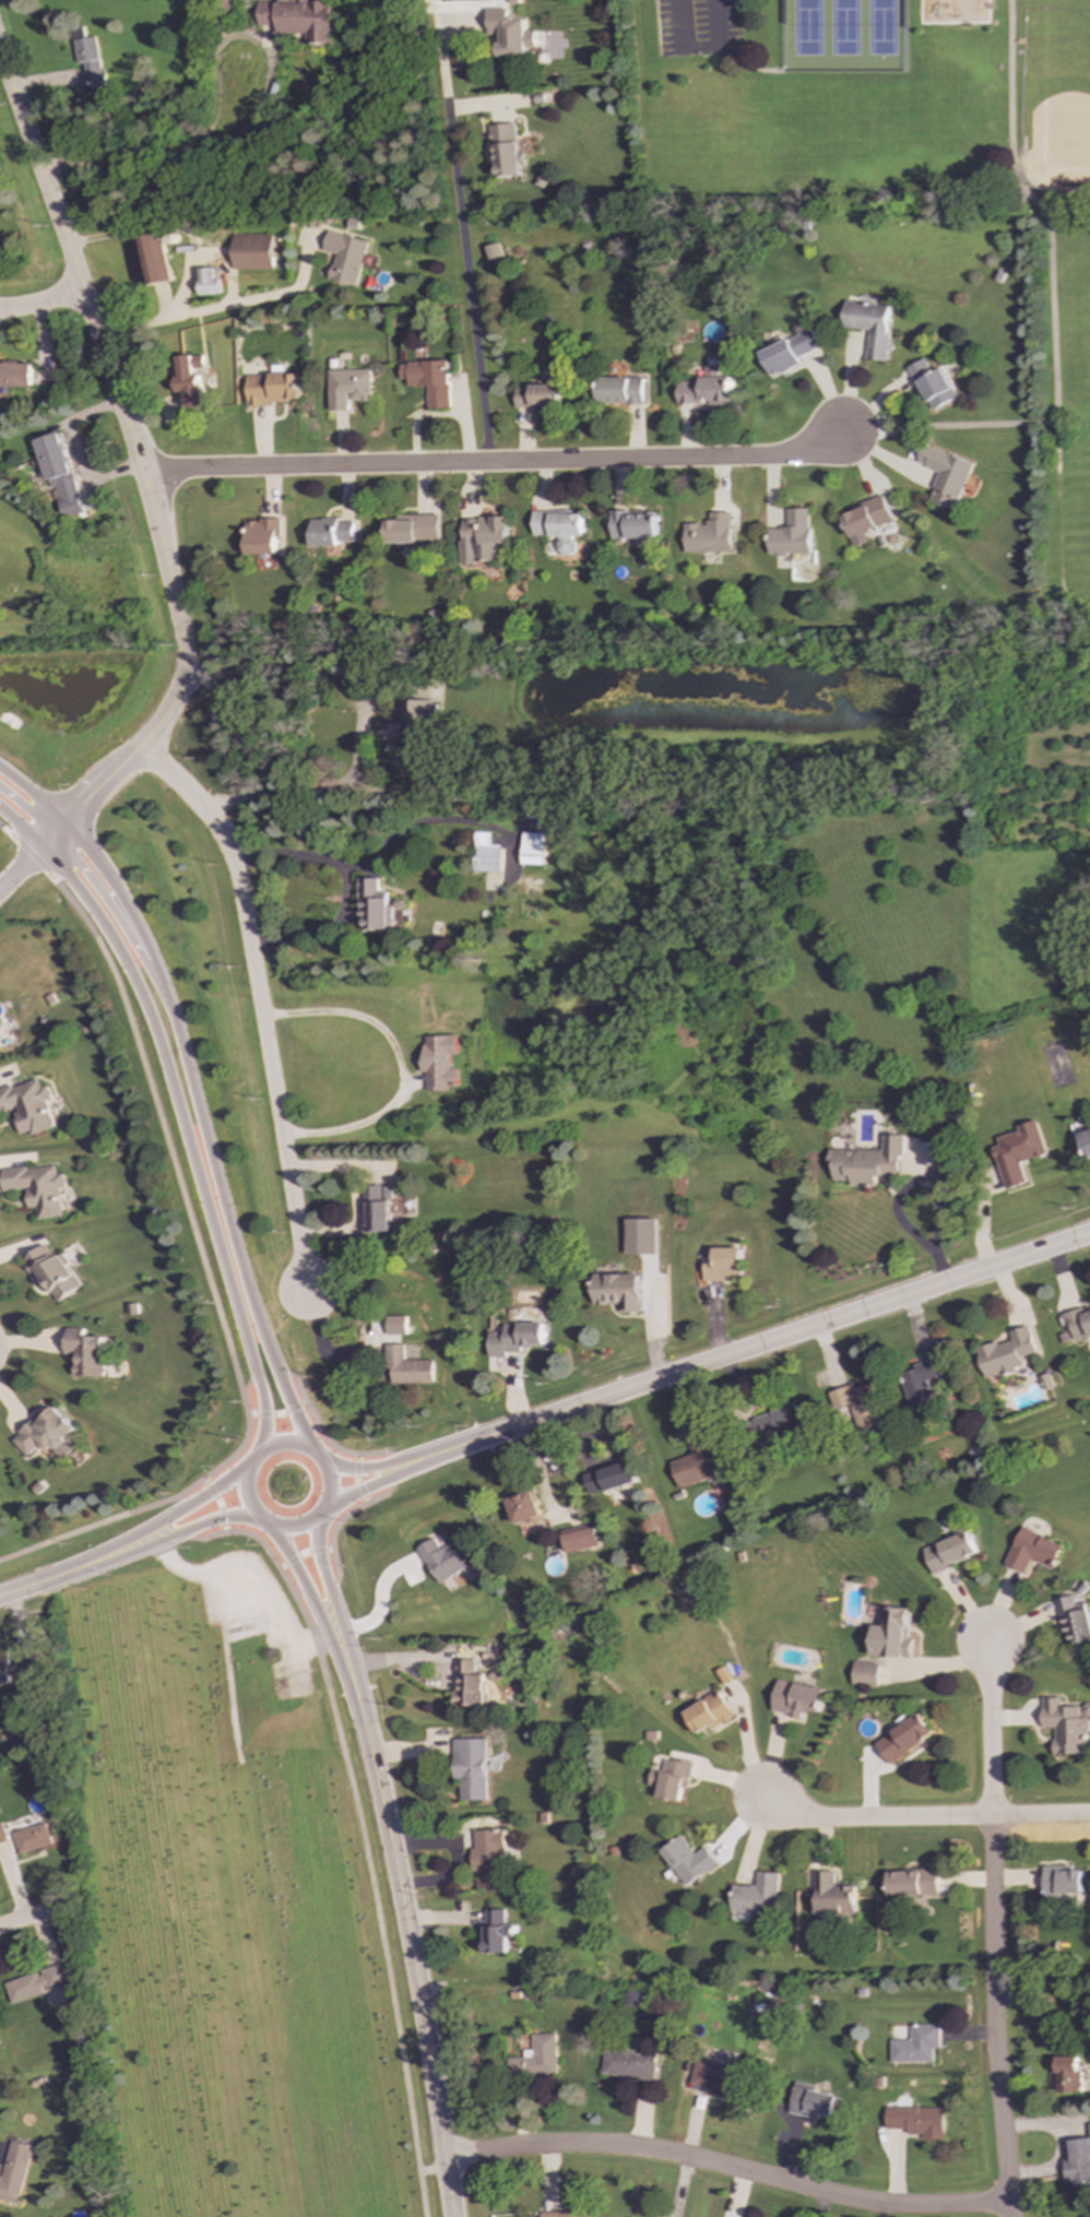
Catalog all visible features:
building: (455, 0)
building: (299, 17)
park: (698, 28)
building: (510, 33)
building: (91, 62)
road: (1006, 115)
park: (902, 134)
building: (506, 150)
road: (457, 222)
road: (1066, 224)
building: (253, 251)
building: (346, 257)
building: (156, 259)
building: (209, 282)
road: (40, 300)
road: (222, 308)
building: (869, 325)
building: (786, 353)
building: (15, 375)
building: (190, 379)
building: (427, 380)
building: (933, 384)
building: (273, 388)
building: (347, 388)
building: (703, 389)
building: (619, 390)
building: (536, 395)
road: (1050, 427)
road: (75, 450)
road: (491, 462)
road: (137, 466)
building: (59, 473)
building: (946, 475)
building: (867, 519)
building: (633, 525)
building: (559, 527)
building: (412, 529)
building: (330, 532)
building: (709, 534)
building: (791, 534)
building: (261, 535)
building: (479, 537)
road: (362, 724)
building: (413, 731)
road: (28, 811)
road: (21, 826)
road: (396, 834)
building: (532, 849)
building: (486, 853)
road: (21, 866)
road: (340, 884)
building: (375, 905)
road: (118, 920)
road: (257, 1003)
building: (0, 1036)
road: (180, 1046)
building: (438, 1060)
road: (402, 1064)
road: (176, 1093)
building: (27, 1105)
building: (1085, 1142)
building: (938, 1152)
building: (1017, 1152)
building: (866, 1162)
road: (174, 1172)
road: (924, 1182)
building: (37, 1187)
building: (377, 1208)
building: (722, 1265)
building: (52, 1272)
building: (618, 1291)
building: (1078, 1324)
building: (395, 1325)
road: (791, 1333)
building: (514, 1338)
building: (85, 1352)
building: (1006, 1353)
building: (407, 1366)
road: (249, 1380)
road: (296, 1380)
building: (919, 1384)
building: (857, 1404)
road: (310, 1408)
road: (265, 1410)
road: (297, 1412)
building: (778, 1424)
building: (47, 1433)
road: (462, 1443)
road: (382, 1453)
road: (419, 1454)
road: (417, 1465)
building: (698, 1466)
road: (365, 1468)
building: (609, 1478)
road: (213, 1491)
road: (362, 1491)
road: (388, 1493)
road: (177, 1506)
building: (524, 1507)
road: (260, 1514)
road: (103, 1521)
road: (337, 1524)
building: (579, 1538)
road: (201, 1539)
road: (147, 1545)
road: (106, 1550)
building: (1031, 1551)
building: (949, 1552)
road: (320, 1554)
road: (291, 1560)
building: (449, 1561)
road: (337, 1572)
road: (19, 1589)
road: (300, 1594)
building: (1074, 1619)
building: (891, 1634)
road: (352, 1659)
road: (337, 1662)
building: (17, 1669)
building: (864, 1674)
building: (467, 1684)
building: (795, 1698)
building: (708, 1712)
building: (1066, 1727)
building: (902, 1738)
building: (471, 1768)
building: (671, 1778)
road: (921, 1818)
building: (2, 1834)
building: (34, 1838)
road: (365, 1852)
building: (488, 1858)
building: (686, 1860)
building: (1059, 1882)
building: (912, 1883)
building: (755, 1896)
building: (831, 1896)
road: (33, 1916)
road: (991, 1930)
building: (497, 1931)
road: (415, 1970)
building: (38, 1983)
building: (632, 1999)
building: (915, 2044)
building: (536, 2059)
building: (627, 2065)
building: (1068, 2075)
building: (714, 2076)
building: (915, 2121)
building: (1078, 2165)
road: (727, 2168)
road: (430, 2170)
building: (14, 2172)
building: (562, 2214)

